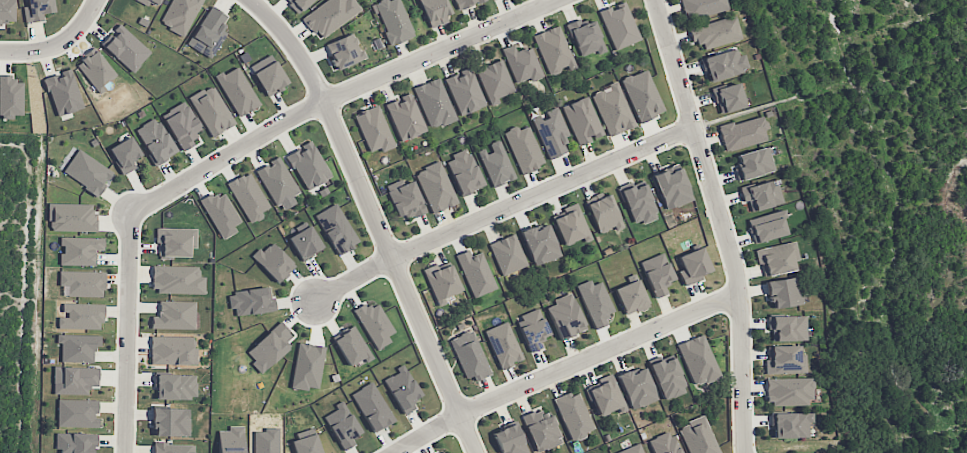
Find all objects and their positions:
building: (152, 2)
building: (466, 3)
building: (298, 4)
building: (701, 8)
building: (37, 10)
building: (6, 11)
building: (435, 11)
building: (180, 15)
building: (330, 15)
building: (394, 20)
building: (619, 25)
building: (715, 32)
building: (208, 33)
road: (50, 36)
building: (585, 37)
road: (58, 43)
building: (125, 48)
building: (344, 50)
building: (553, 50)
building: (522, 63)
building: (724, 64)
building: (268, 74)
building: (494, 81)
building: (12, 84)
building: (237, 91)
building: (464, 91)
building: (63, 92)
road: (335, 94)
building: (642, 95)
building: (728, 97)
building: (434, 103)
building: (612, 109)
building: (211, 110)
building: (405, 117)
building: (582, 120)
building: (182, 125)
building: (374, 129)
building: (551, 132)
building: (742, 133)
building: (155, 140)
building: (524, 148)
building: (125, 154)
building: (496, 163)
building: (753, 163)
building: (308, 165)
building: (87, 172)
building: (464, 172)
building: (278, 183)
building: (671, 186)
building: (435, 187)
building: (760, 195)
building: (248, 196)
building: (405, 199)
building: (638, 202)
road: (500, 208)
building: (604, 213)
building: (72, 217)
road: (373, 218)
road: (722, 222)
building: (571, 225)
building: (767, 226)
building: (336, 228)
building: (175, 241)
building: (305, 242)
building: (540, 244)
building: (80, 250)
building: (508, 254)
building: (776, 258)
building: (274, 261)
building: (693, 265)
building: (475, 273)
building: (657, 274)
building: (177, 279)
building: (441, 282)
building: (83, 283)
building: (784, 292)
building: (631, 297)
building: (251, 301)
building: (596, 303)
building: (174, 315)
building: (81, 316)
building: (565, 316)
building: (374, 324)
building: (787, 327)
building: (533, 328)
road: (127, 332)
building: (504, 345)
building: (270, 346)
building: (78, 347)
building: (173, 350)
building: (470, 355)
building: (698, 360)
building: (784, 360)
road: (565, 367)
building: (667, 376)
building: (74, 380)
building: (175, 386)
building: (637, 387)
building: (402, 389)
building: (788, 391)
building: (606, 395)
building: (372, 406)
building: (77, 413)
building: (574, 415)
building: (170, 421)
building: (790, 424)
building: (342, 425)
building: (541, 429)
building: (698, 436)
building: (231, 440)
building: (509, 440)
building: (76, 442)
building: (664, 443)
building: (306, 444)
building: (173, 448)
building: (632, 449)
building: (447, 452)

